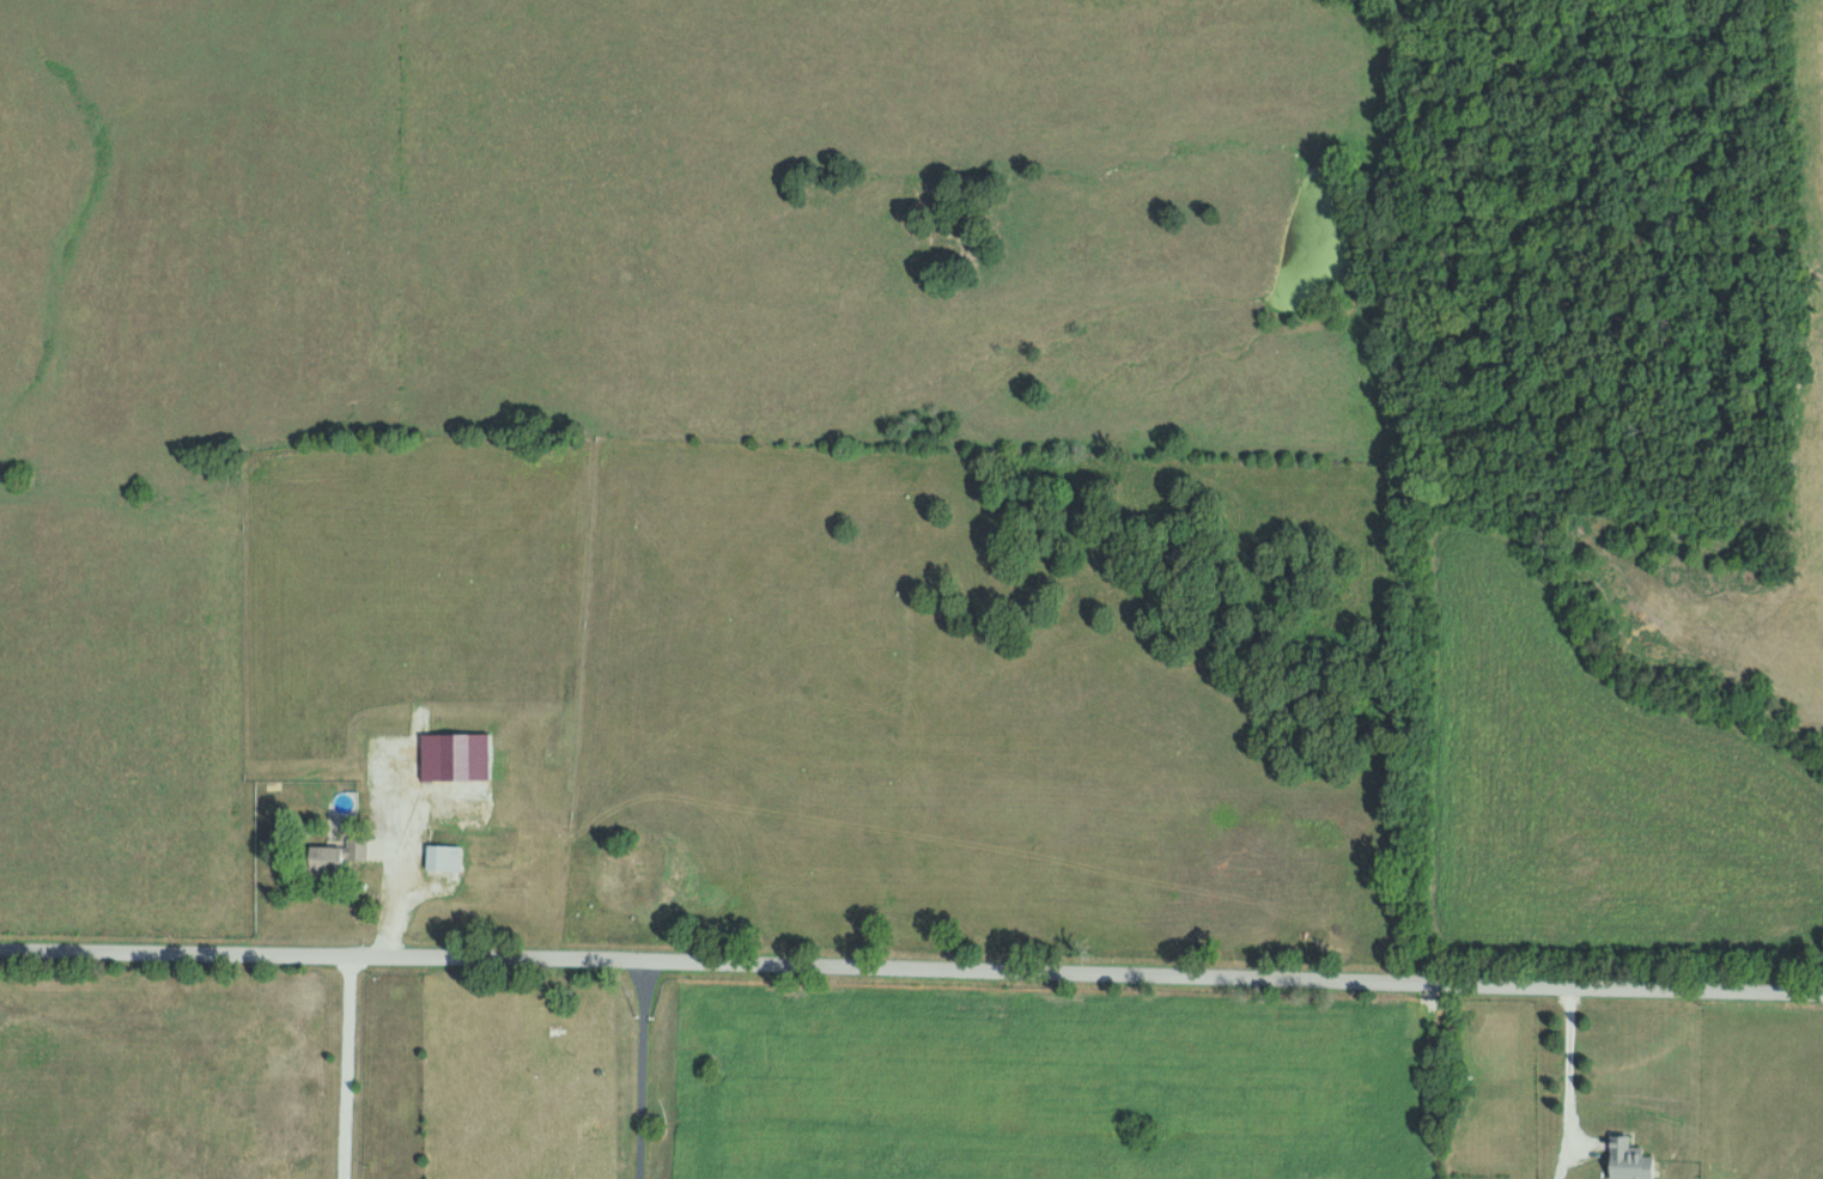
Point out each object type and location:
building: (451, 754)
building: (354, 846)
building: (320, 857)
building: (439, 857)
road: (415, 891)
road: (911, 966)
road: (356, 1065)
road: (644, 1068)
road: (1570, 1072)
road: (1450, 1078)
building: (1624, 1159)

